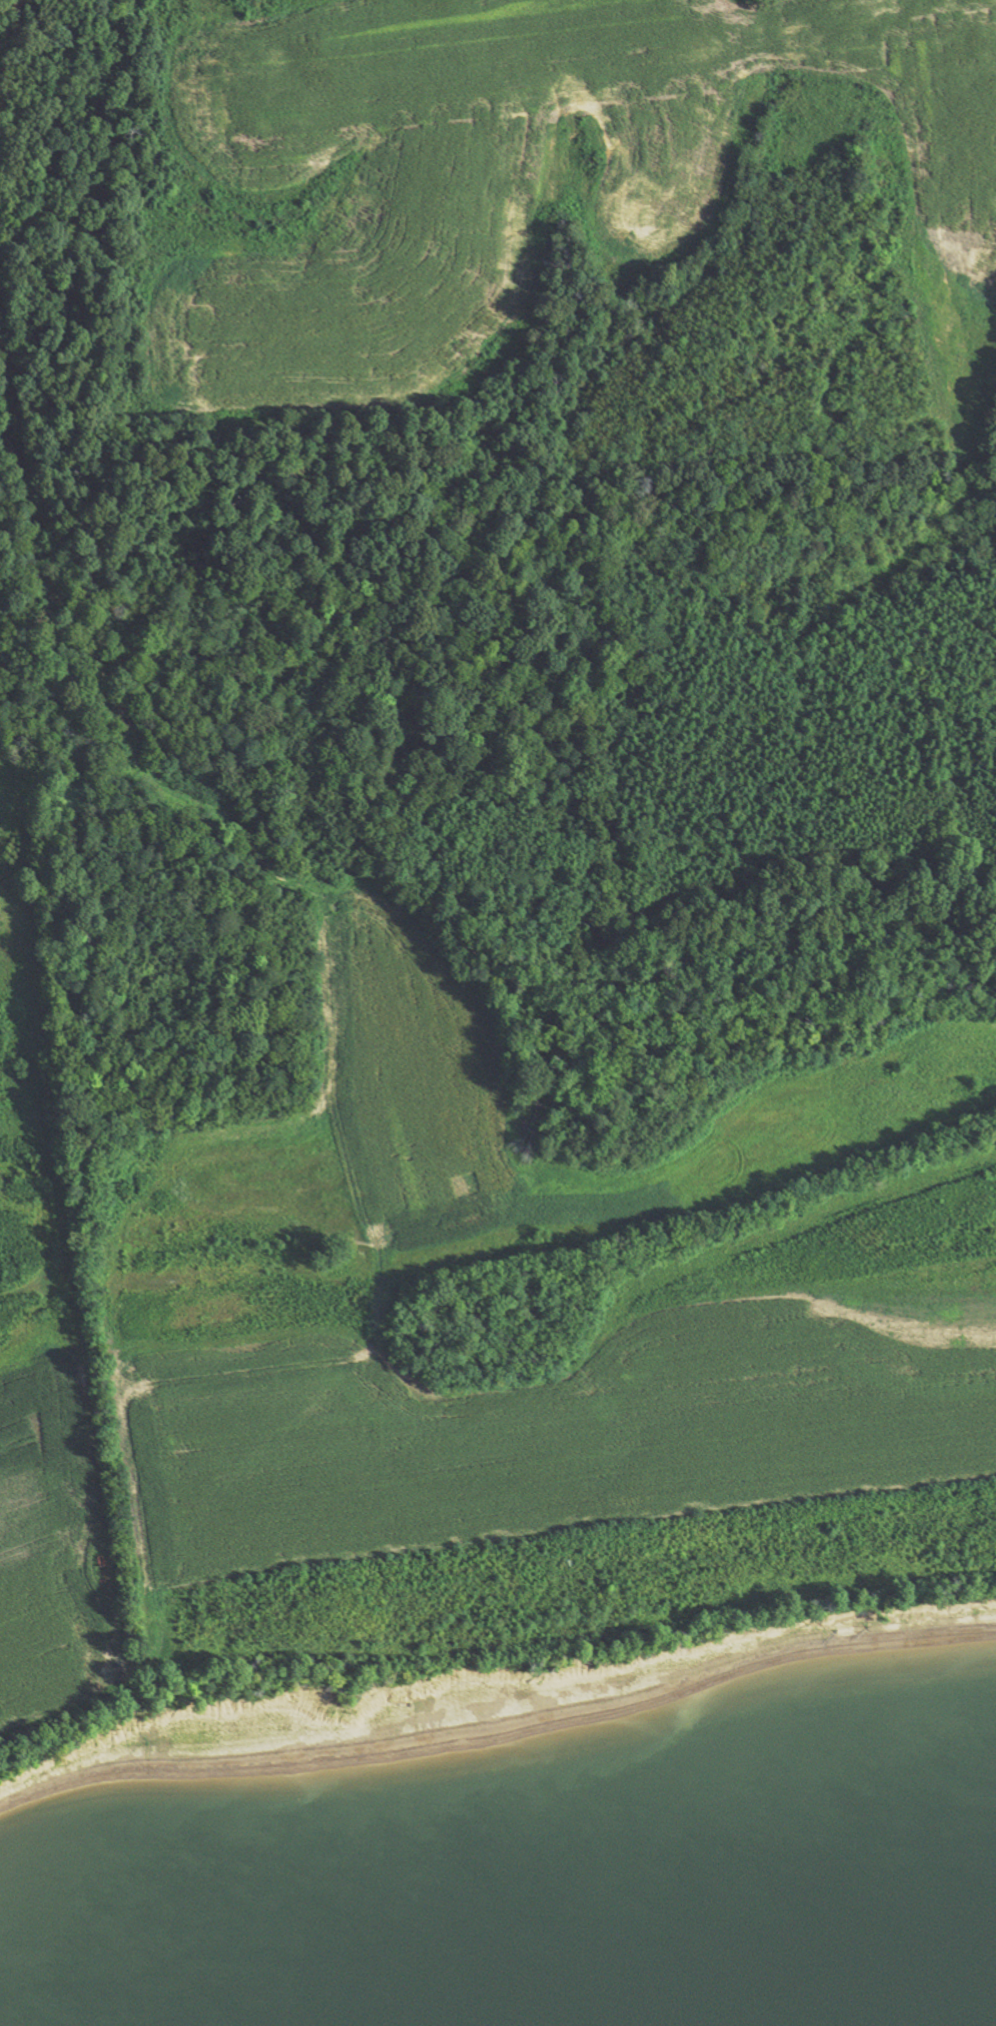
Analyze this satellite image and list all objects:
river: (772, 1975)

